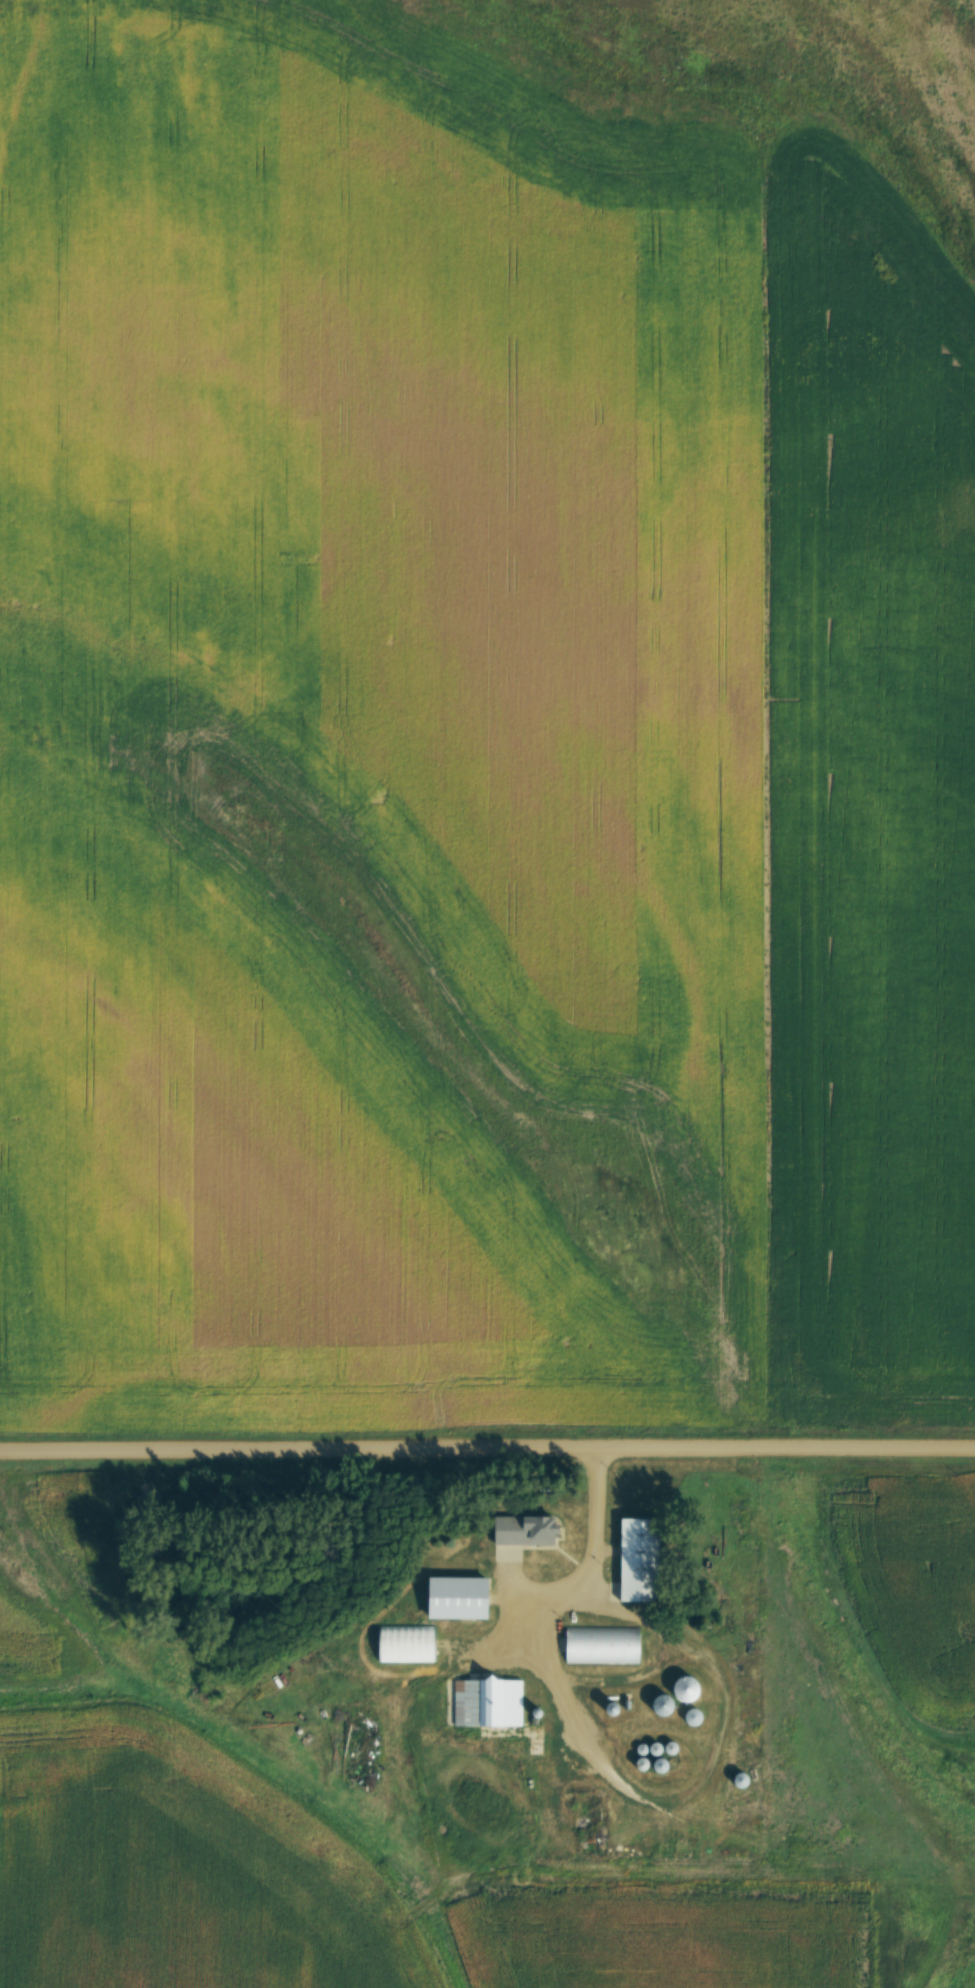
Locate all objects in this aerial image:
road: (487, 1450)
building: (529, 1530)
building: (641, 1559)
building: (406, 1643)
building: (604, 1645)
building: (691, 1688)
building: (484, 1701)
building: (667, 1704)
building: (617, 1706)
building: (696, 1716)
building: (742, 1780)

